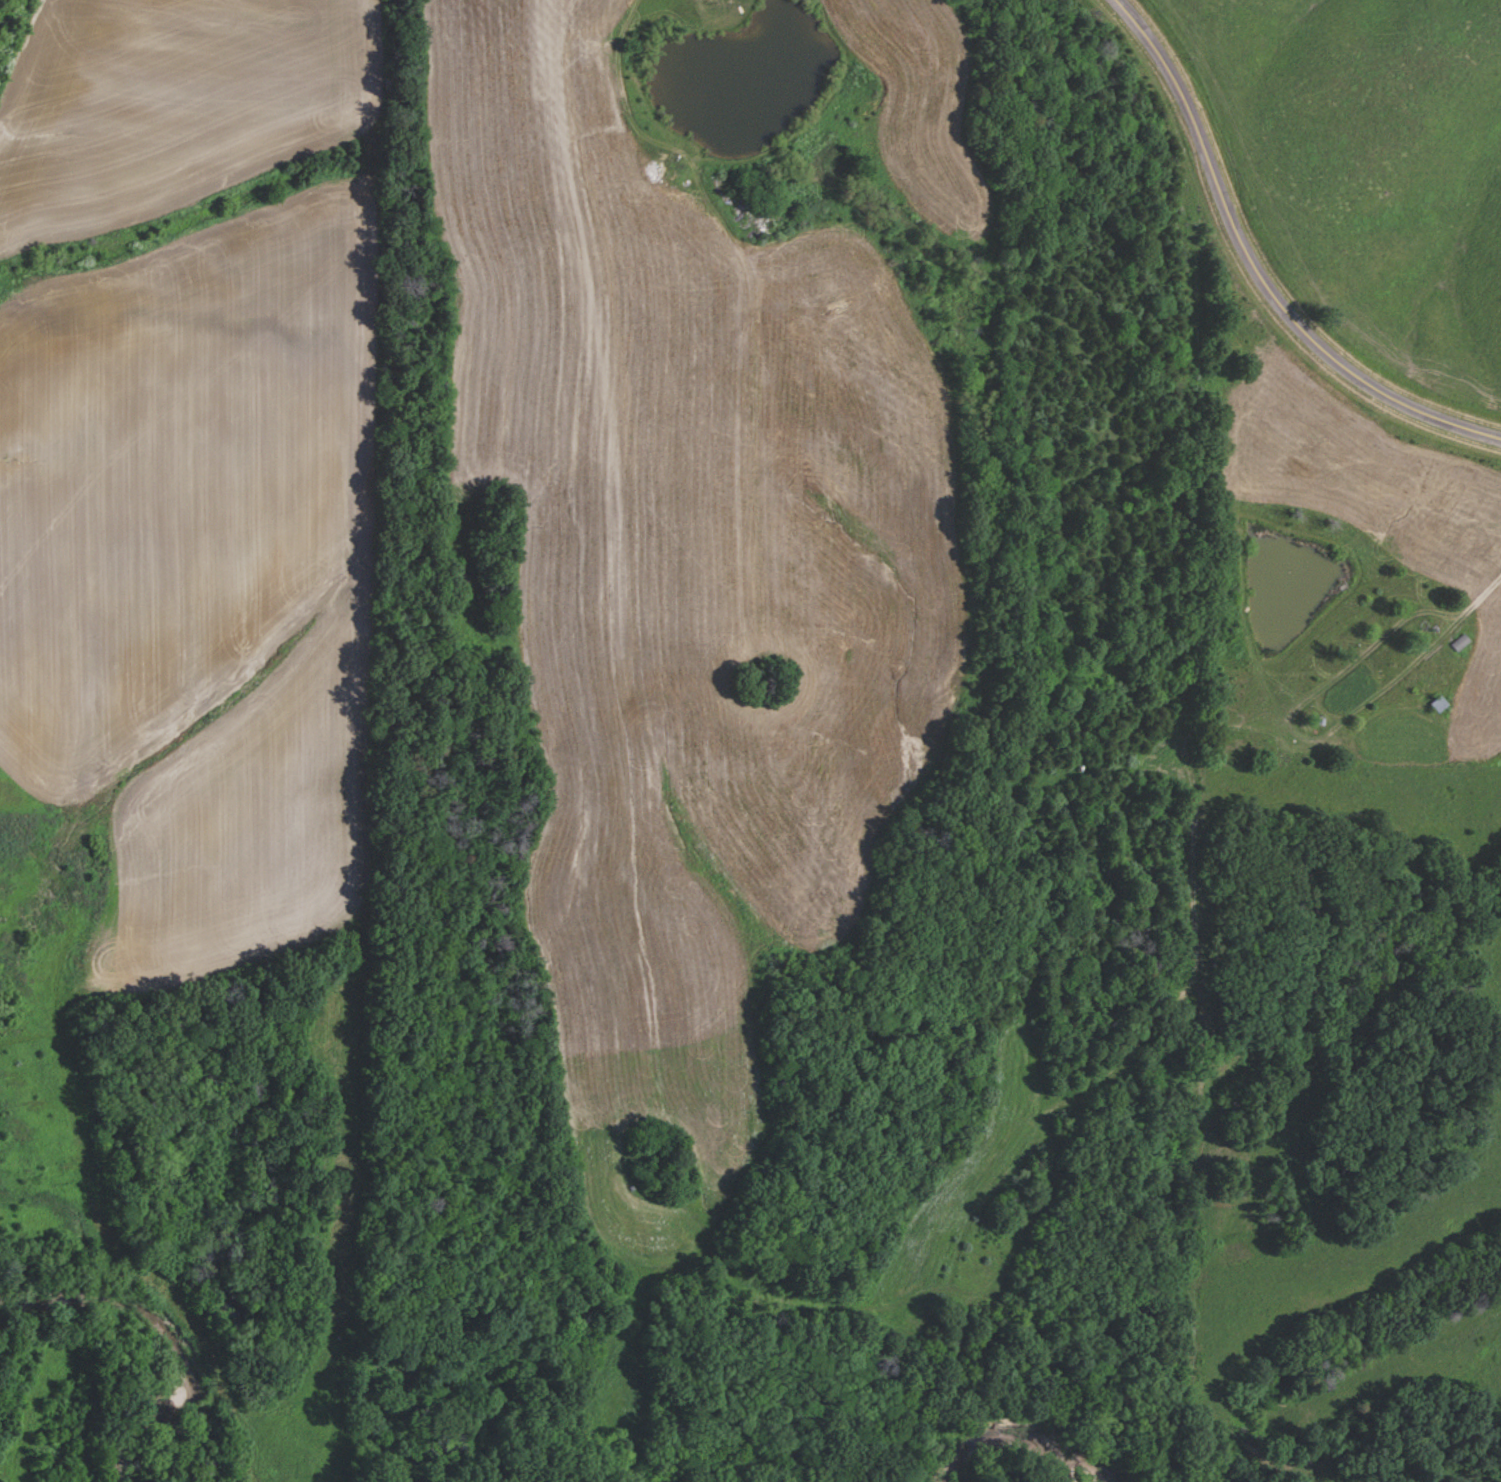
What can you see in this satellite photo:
road: (1254, 272)
building: (1455, 642)
building: (1432, 702)

